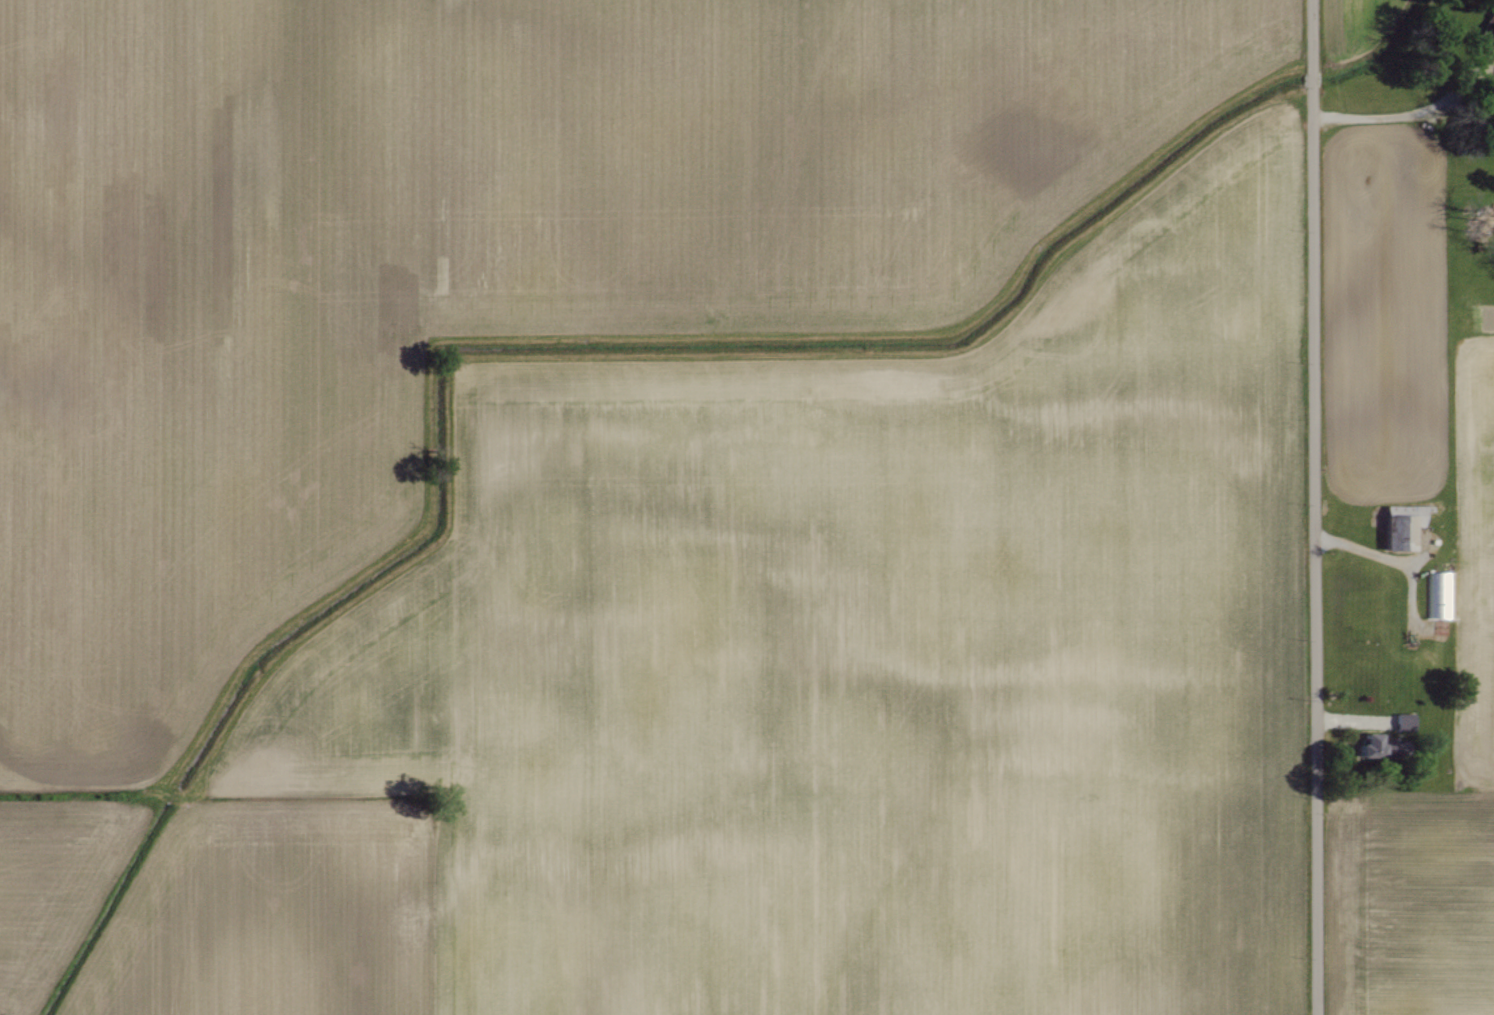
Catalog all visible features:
building: (1488, 31)
road: (1417, 114)
road: (1312, 507)
building: (1403, 524)
building: (1441, 595)
building: (1375, 746)

